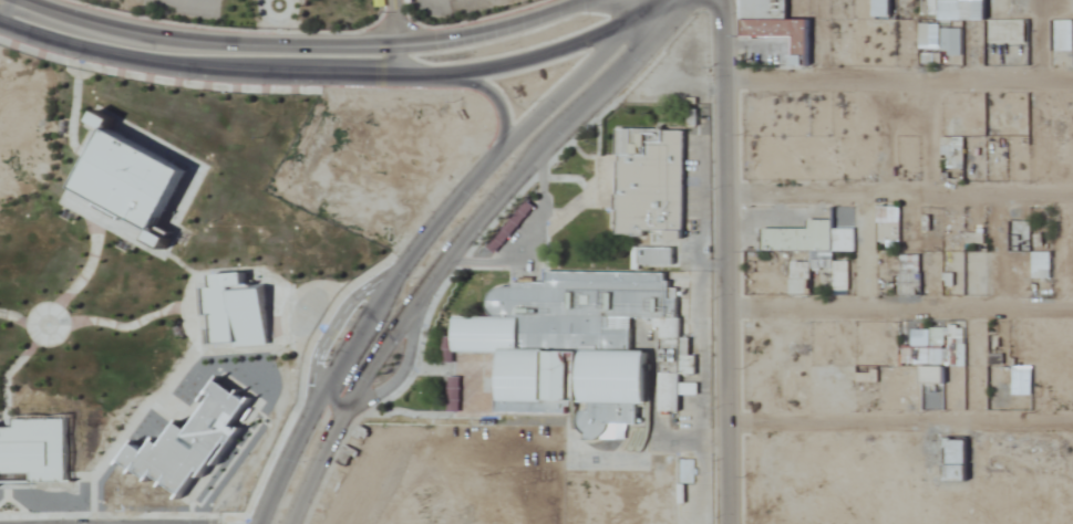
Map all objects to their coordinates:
park: (298, 14)

